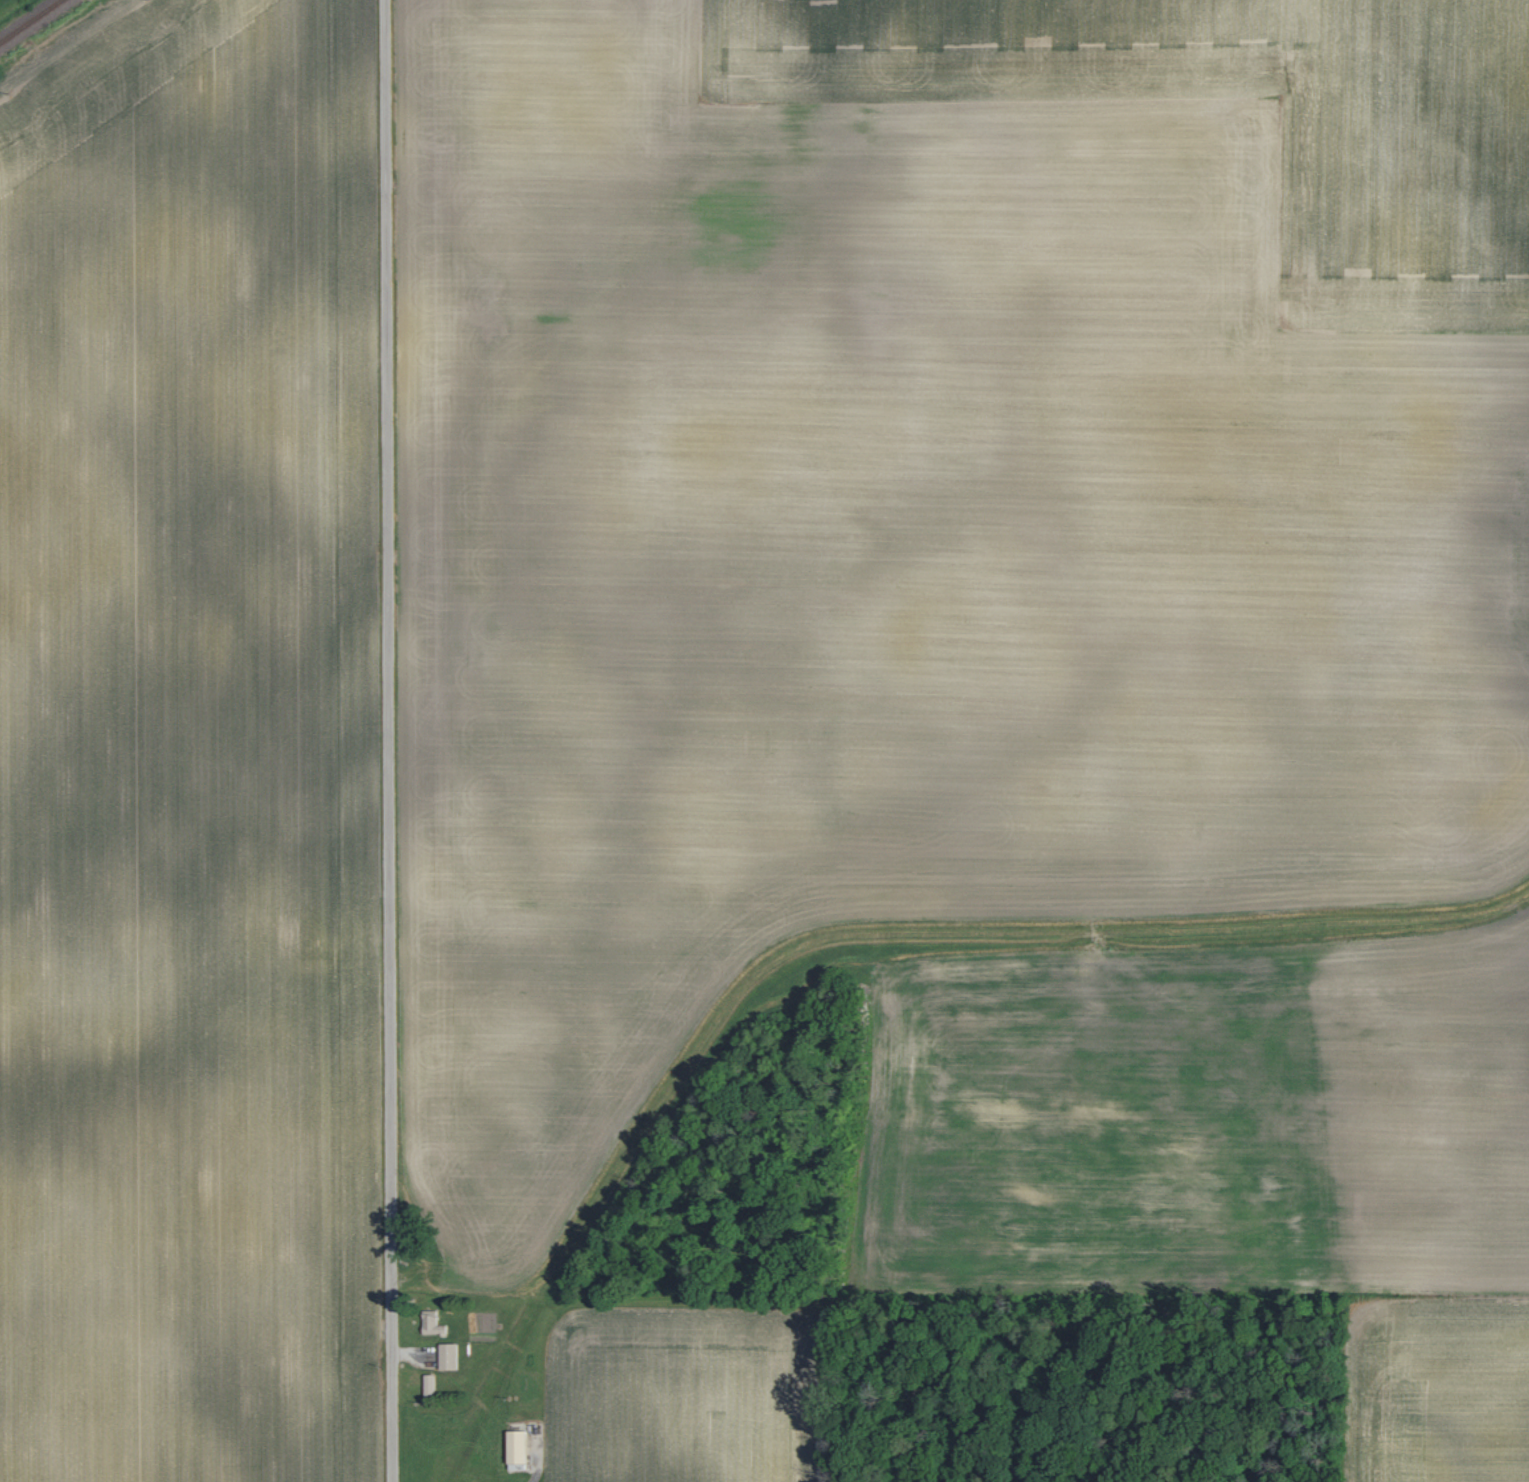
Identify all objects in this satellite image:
railway: (31, 21)
road: (387, 741)
building: (430, 1322)
building: (447, 1356)
building: (428, 1383)
building: (514, 1446)
road: (538, 1462)

